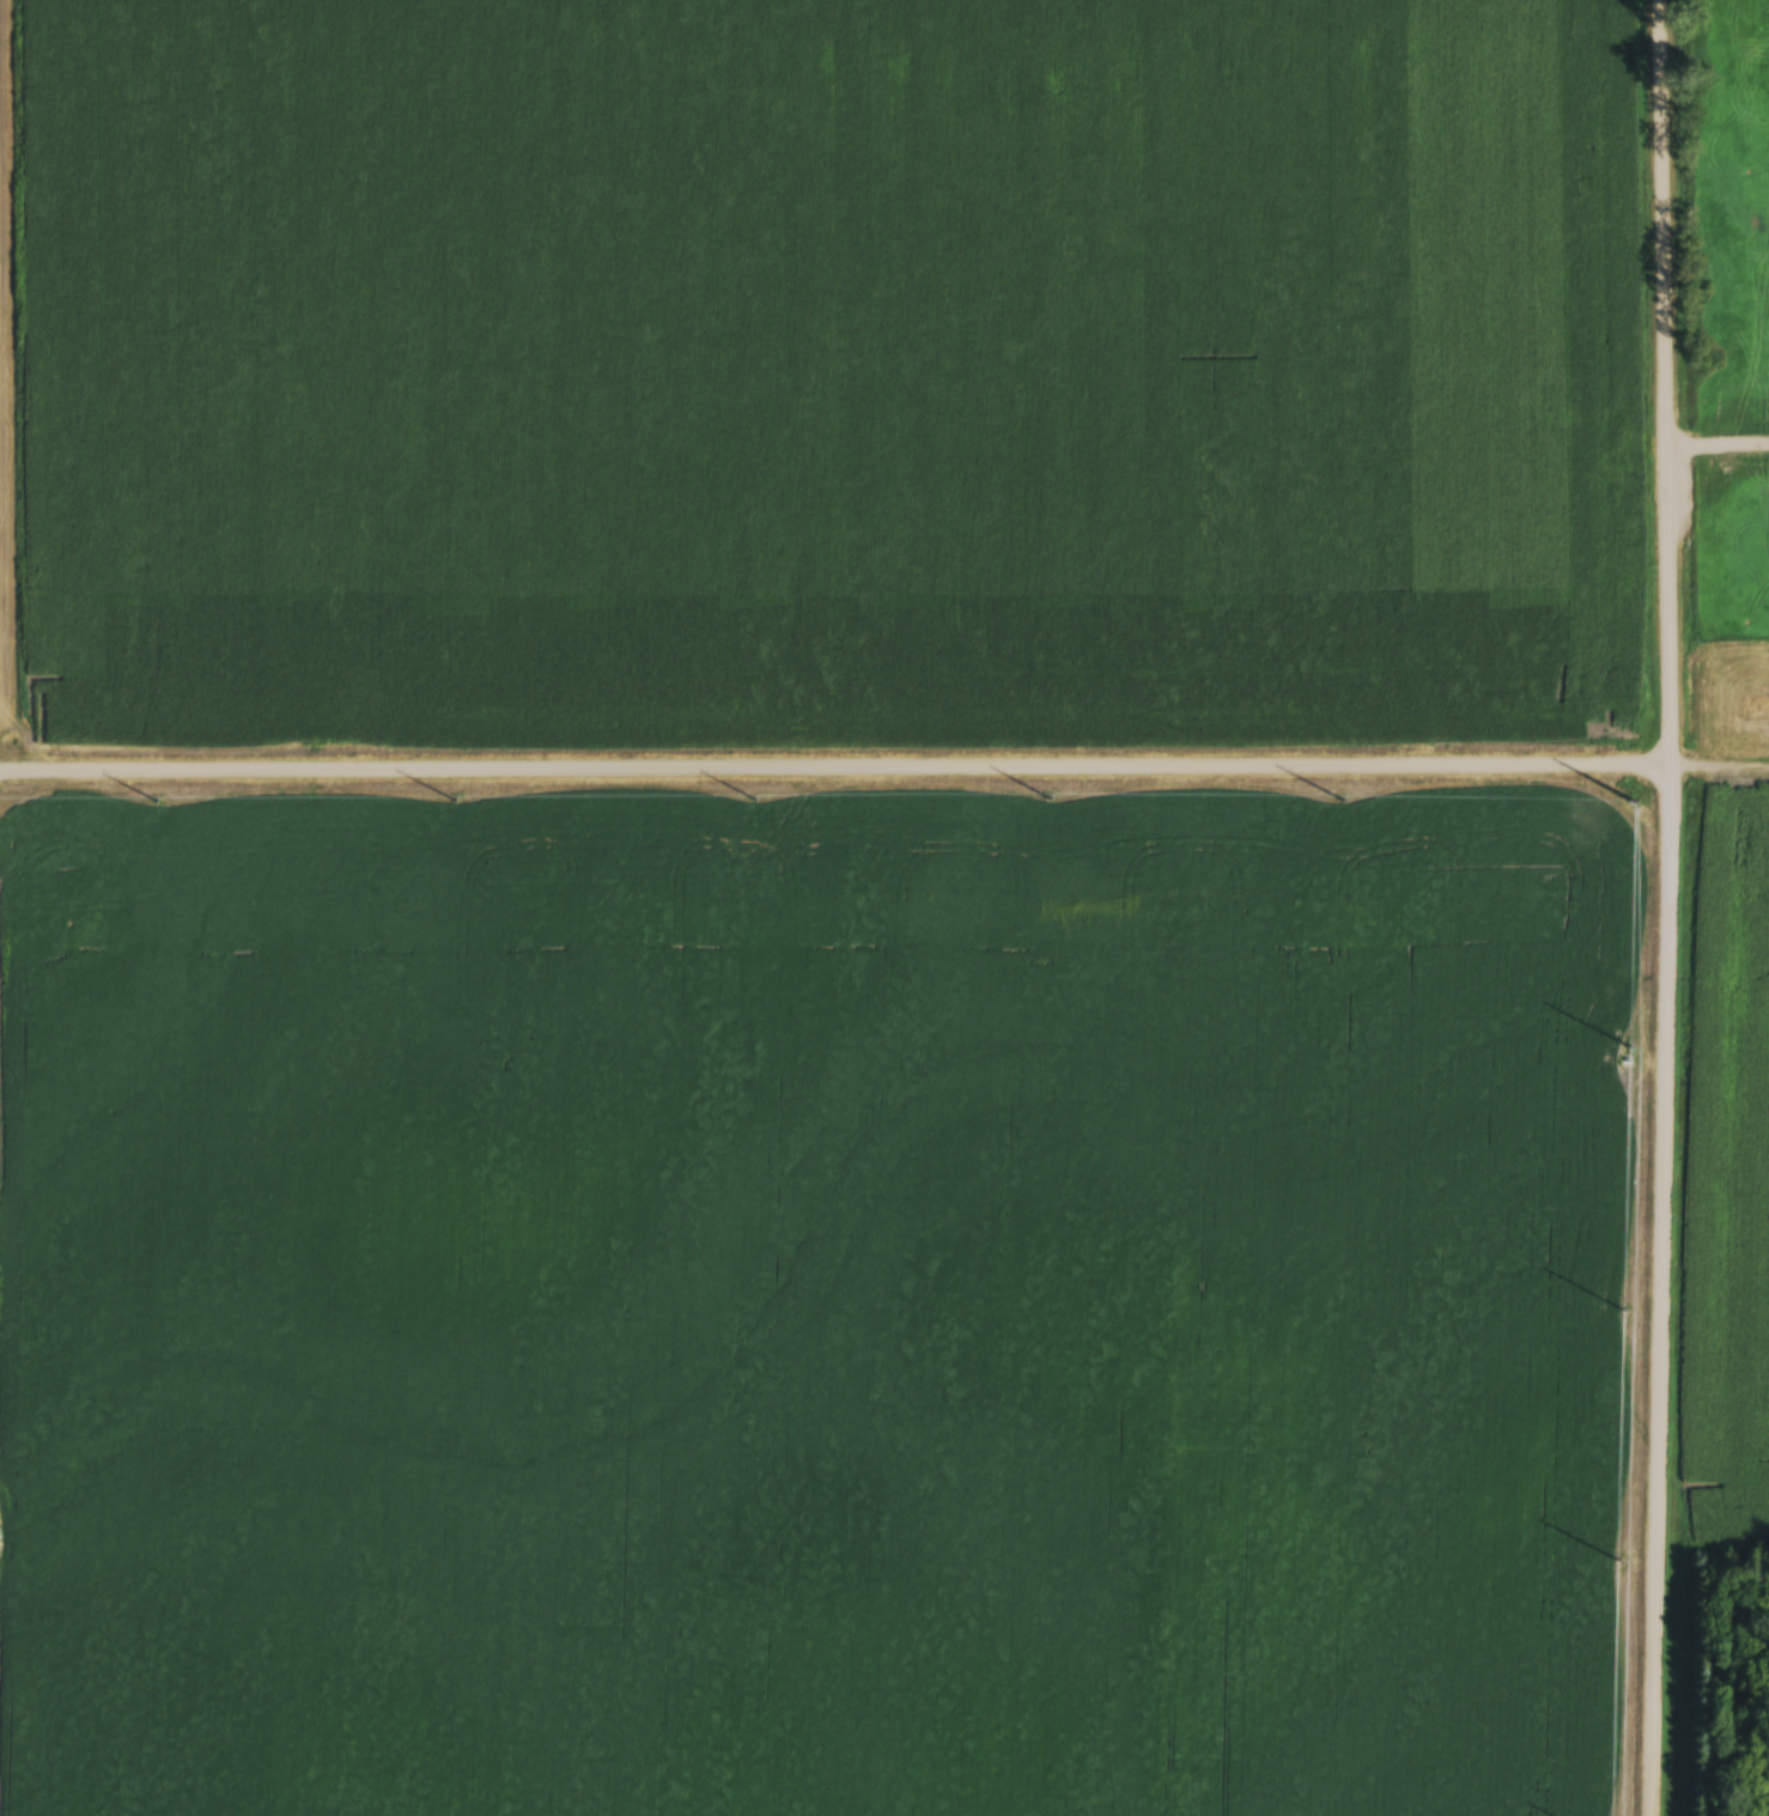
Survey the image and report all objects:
road: (835, 769)
power tower: (1631, 806)
road: (1670, 907)

